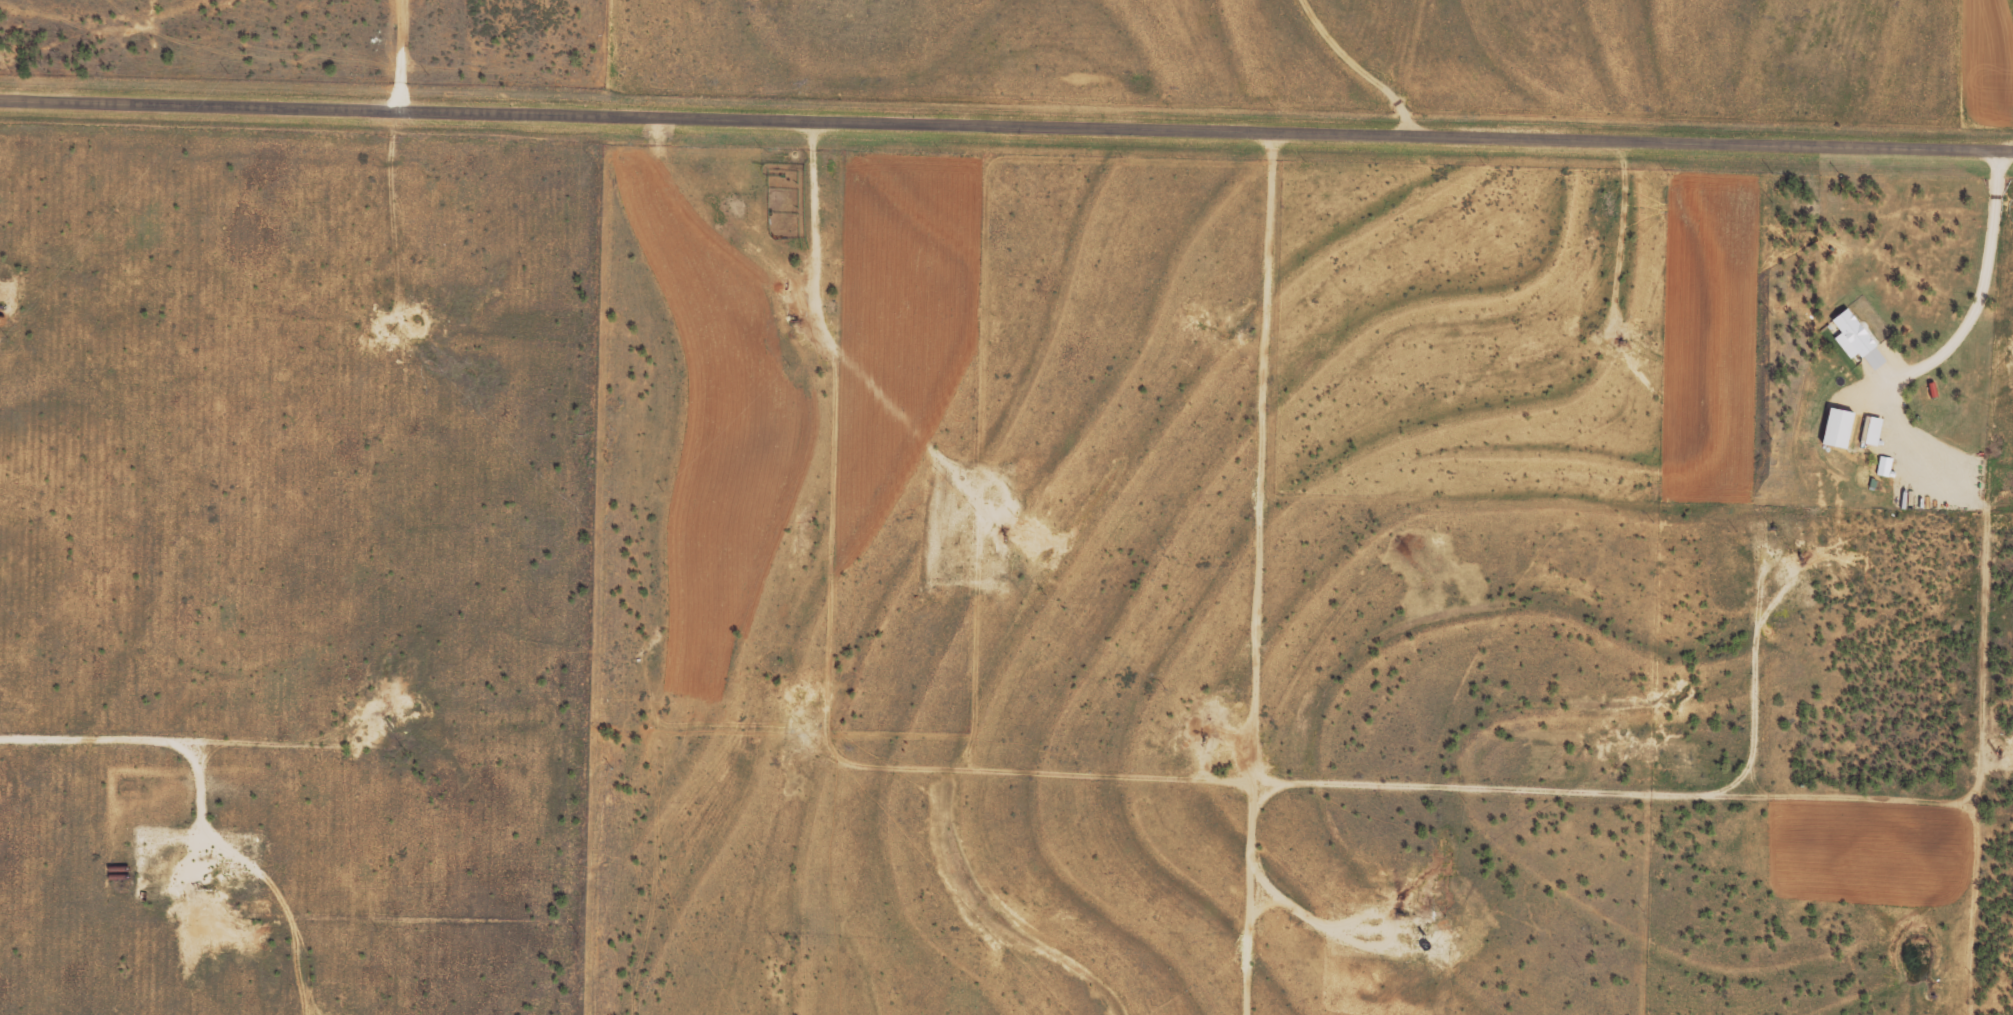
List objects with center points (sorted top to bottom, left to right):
road: (1369, 70)
road: (1006, 124)
building: (1858, 339)
building: (1840, 427)

